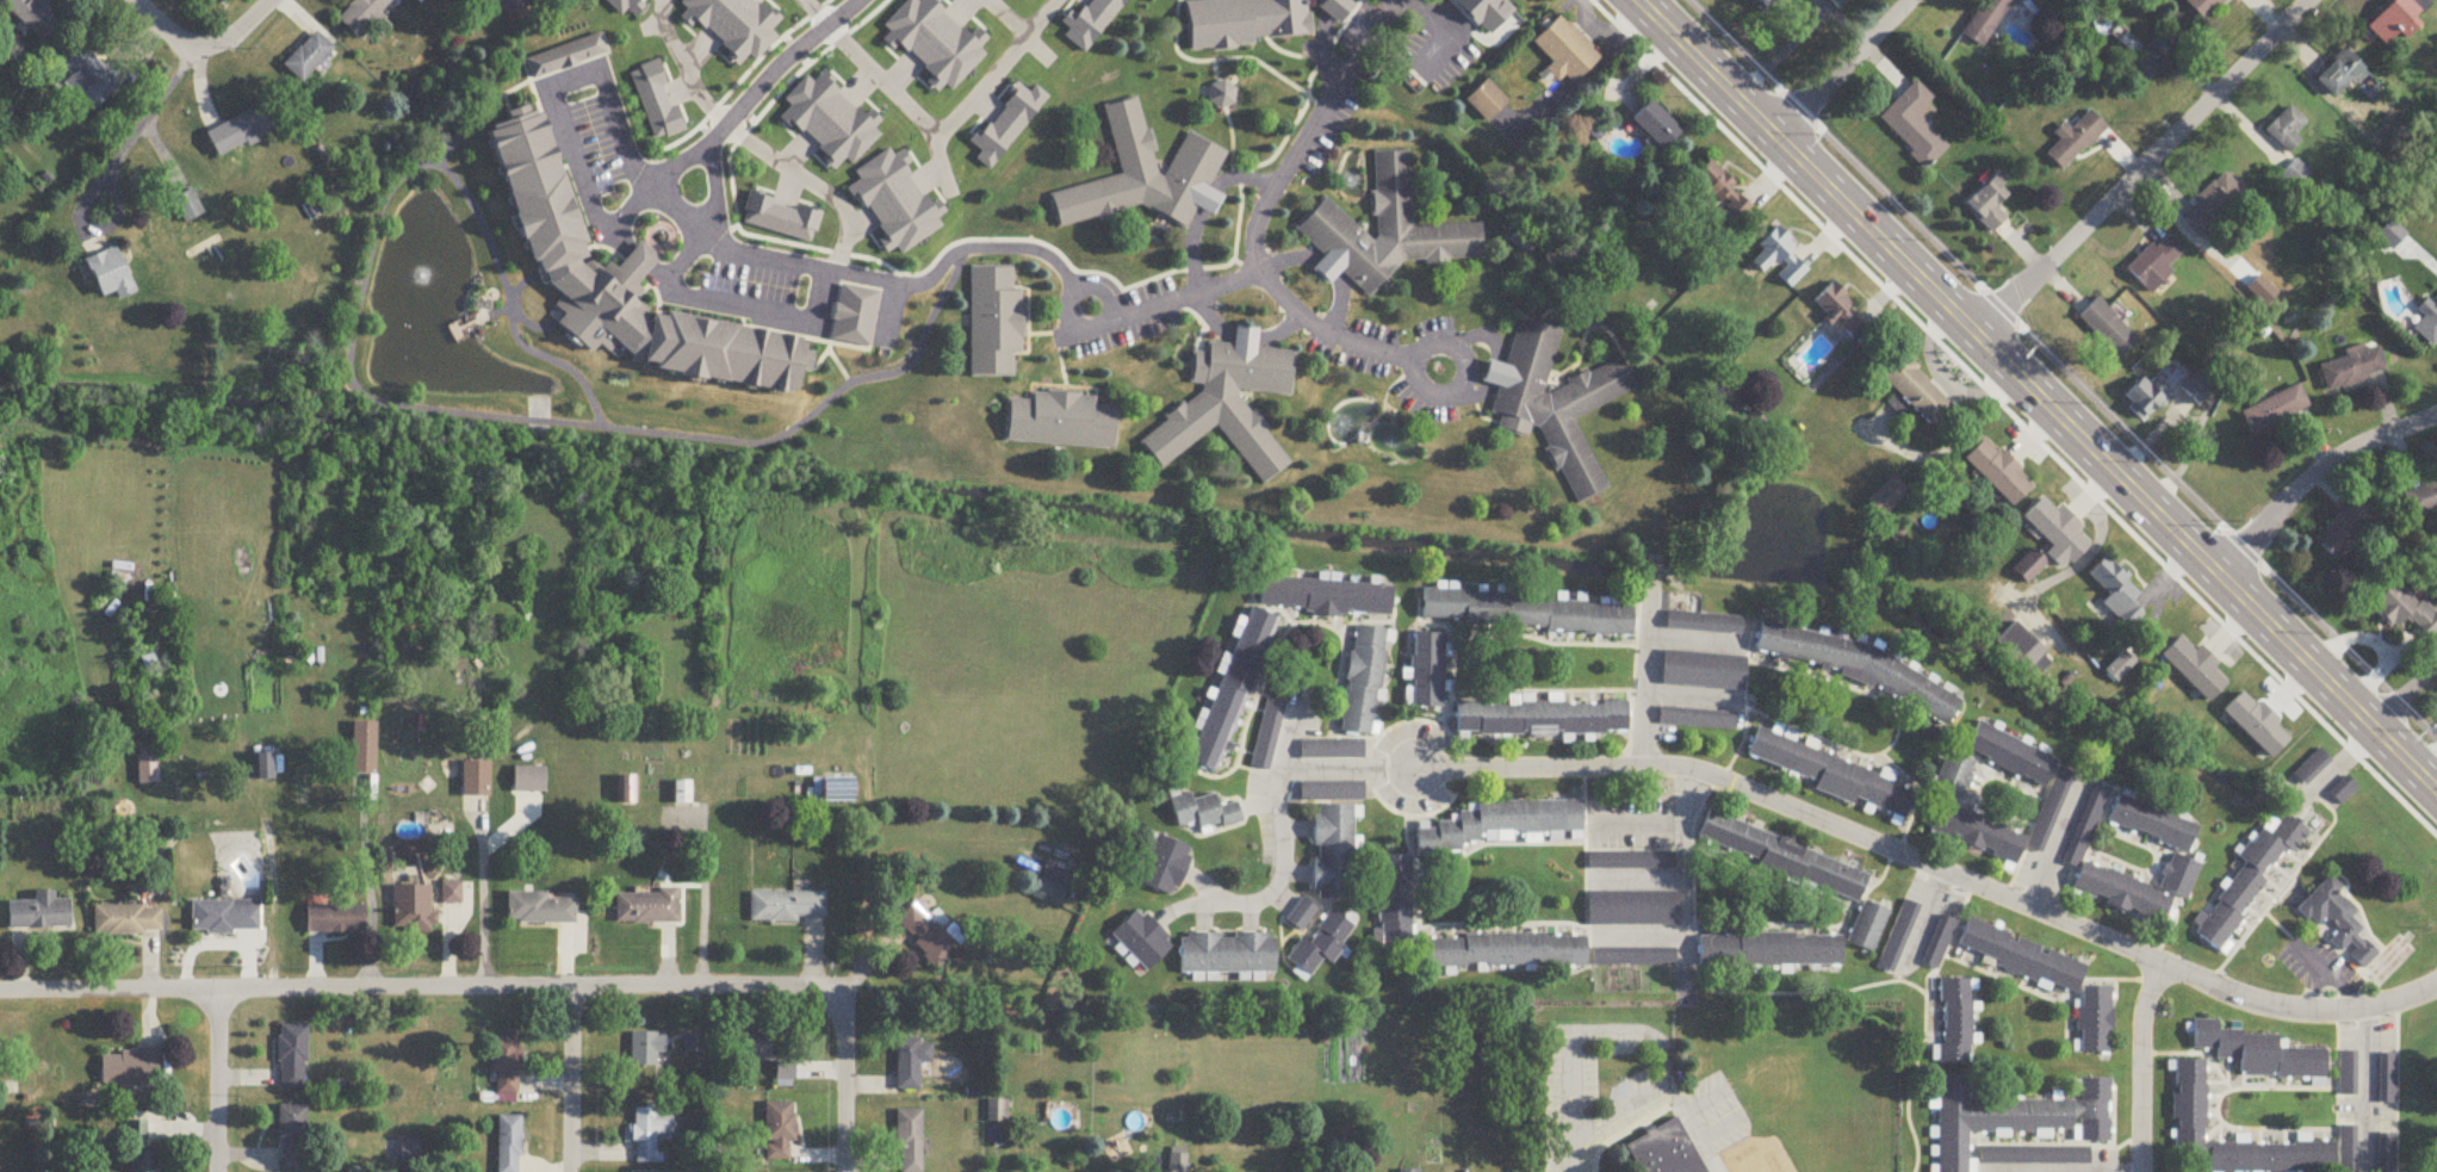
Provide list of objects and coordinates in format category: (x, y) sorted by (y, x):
building: (1763, 4)
building: (2205, 7)
building: (511, 8)
road: (819, 12)
building: (362, 14)
building: (33, 17)
building: (1224, 20)
building: (1986, 20)
building: (2398, 20)
road: (159, 25)
road: (234, 33)
road: (1024, 33)
building: (1567, 54)
building: (308, 57)
building: (566, 57)
building: (2152, 58)
road: (684, 68)
road: (1840, 68)
building: (2340, 75)
building: (92, 76)
building: (1487, 103)
road: (734, 119)
building: (1657, 125)
road: (929, 126)
building: (1914, 126)
road: (137, 129)
building: (241, 131)
building: (2286, 131)
road: (1310, 132)
building: (2076, 141)
road: (566, 142)
road: (2143, 167)
building: (2295, 175)
building: (1145, 178)
building: (1724, 196)
building: (1990, 204)
building: (192, 205)
road: (837, 205)
building: (2212, 206)
road: (717, 224)
building: (1385, 234)
building: (1780, 258)
building: (2156, 262)
road: (805, 266)
building: (111, 275)
building: (621, 280)
road: (1266, 286)
road: (1078, 290)
road: (764, 311)
building: (1838, 314)
building: (855, 317)
building: (996, 323)
building: (2427, 323)
building: (2108, 329)
road: (1414, 365)
building: (2352, 368)
road: (2054, 379)
building: (2202, 387)
building: (1916, 390)
road: (2038, 395)
building: (2146, 398)
building: (1554, 403)
building: (1229, 405)
building: (2275, 410)
road: (2019, 414)
building: (1062, 422)
building: (1998, 473)
road: (2314, 475)
building: (1886, 498)
building: (2422, 501)
building: (2345, 529)
building: (2057, 533)
road: (2096, 538)
building: (2115, 590)
building: (1325, 591)
building: (1524, 607)
building: (2405, 610)
building: (1700, 616)
road: (1695, 637)
building: (2024, 651)
building: (1422, 663)
building: (1853, 663)
building: (1698, 665)
road: (1647, 669)
building: (2195, 670)
building: (1357, 675)
building: (1228, 684)
road: (1691, 695)
road: (2404, 695)
building: (1538, 711)
building: (1693, 713)
building: (2257, 726)
building: (1263, 727)
road: (1288, 737)
building: (1331, 745)
building: (365, 750)
building: (2002, 752)
parking lot: (1414, 765)
building: (265, 768)
building: (2312, 768)
building: (148, 771)
building: (1947, 774)
building: (1827, 775)
building: (476, 781)
building: (531, 782)
building: (1331, 787)
building: (628, 792)
building: (2343, 792)
building: (835, 793)
building: (683, 794)
road: (1279, 798)
road: (1257, 802)
building: (2046, 806)
parking lot: (1629, 812)
building: (1209, 813)
road: (1642, 816)
building: (1495, 821)
building: (2147, 821)
building: (2081, 823)
road: (1296, 825)
building: (1972, 831)
building: (1331, 845)
road: (2051, 848)
building: (1779, 852)
building: (1626, 856)
building: (1159, 860)
road: (1686, 860)
road: (1296, 869)
road: (1931, 869)
building: (2175, 873)
parking lot: (2038, 875)
road: (1642, 876)
building: (2245, 878)
road: (1203, 885)
building: (2114, 888)
building: (1050, 889)
parking lot: (1931, 893)
building: (452, 894)
road: (370, 900)
road: (1292, 903)
building: (1631, 903)
road: (702, 906)
building: (787, 907)
road: (1176, 907)
building: (415, 910)
building: (646, 910)
building: (540, 911)
building: (2329, 911)
building: (39, 914)
road: (1249, 914)
building: (1302, 916)
road: (1203, 917)
building: (225, 918)
road: (1918, 920)
building: (128, 922)
building: (335, 922)
road: (484, 922)
building: (1864, 922)
road: (1642, 930)
building: (1458, 932)
building: (1892, 932)
building: (1140, 936)
building: (1934, 937)
building: (928, 938)
building: (1322, 938)
building: (1762, 945)
building: (1223, 951)
building: (1629, 951)
building: (2015, 954)
park: (2388, 955)
parking lot: (2315, 963)
road: (2317, 967)
road: (414, 990)
road: (2349, 994)
building: (1952, 1013)
building: (2089, 1016)
road: (1593, 1033)
parking lot: (1619, 1043)
building: (693, 1046)
building: (755, 1047)
building: (2249, 1049)
building: (647, 1052)
building: (292, 1059)
building: (506, 1064)
building: (793, 1064)
building: (911, 1064)
road: (2140, 1064)
building: (2344, 1066)
building: (130, 1068)
building: (2382, 1072)
road: (217, 1079)
road: (569, 1081)
road: (844, 1081)
road: (2361, 1091)
parking lot: (1562, 1096)
building: (2185, 1096)
parking lot: (1631, 1097)
road: (1703, 1098)
building: (997, 1112)
road: (1612, 1114)
building: (2007, 1115)
parking lot: (1706, 1116)
road: (1625, 1130)
building: (779, 1133)
building: (649, 1135)
road: (1700, 1136)
building: (291, 1139)
building: (910, 1141)
building: (509, 1145)
building: (2343, 1146)
building: (1661, 1148)
building: (139, 1149)
building: (2383, 1149)
building: (2032, 1152)
road: (1714, 1154)
road: (2061, 1171)

